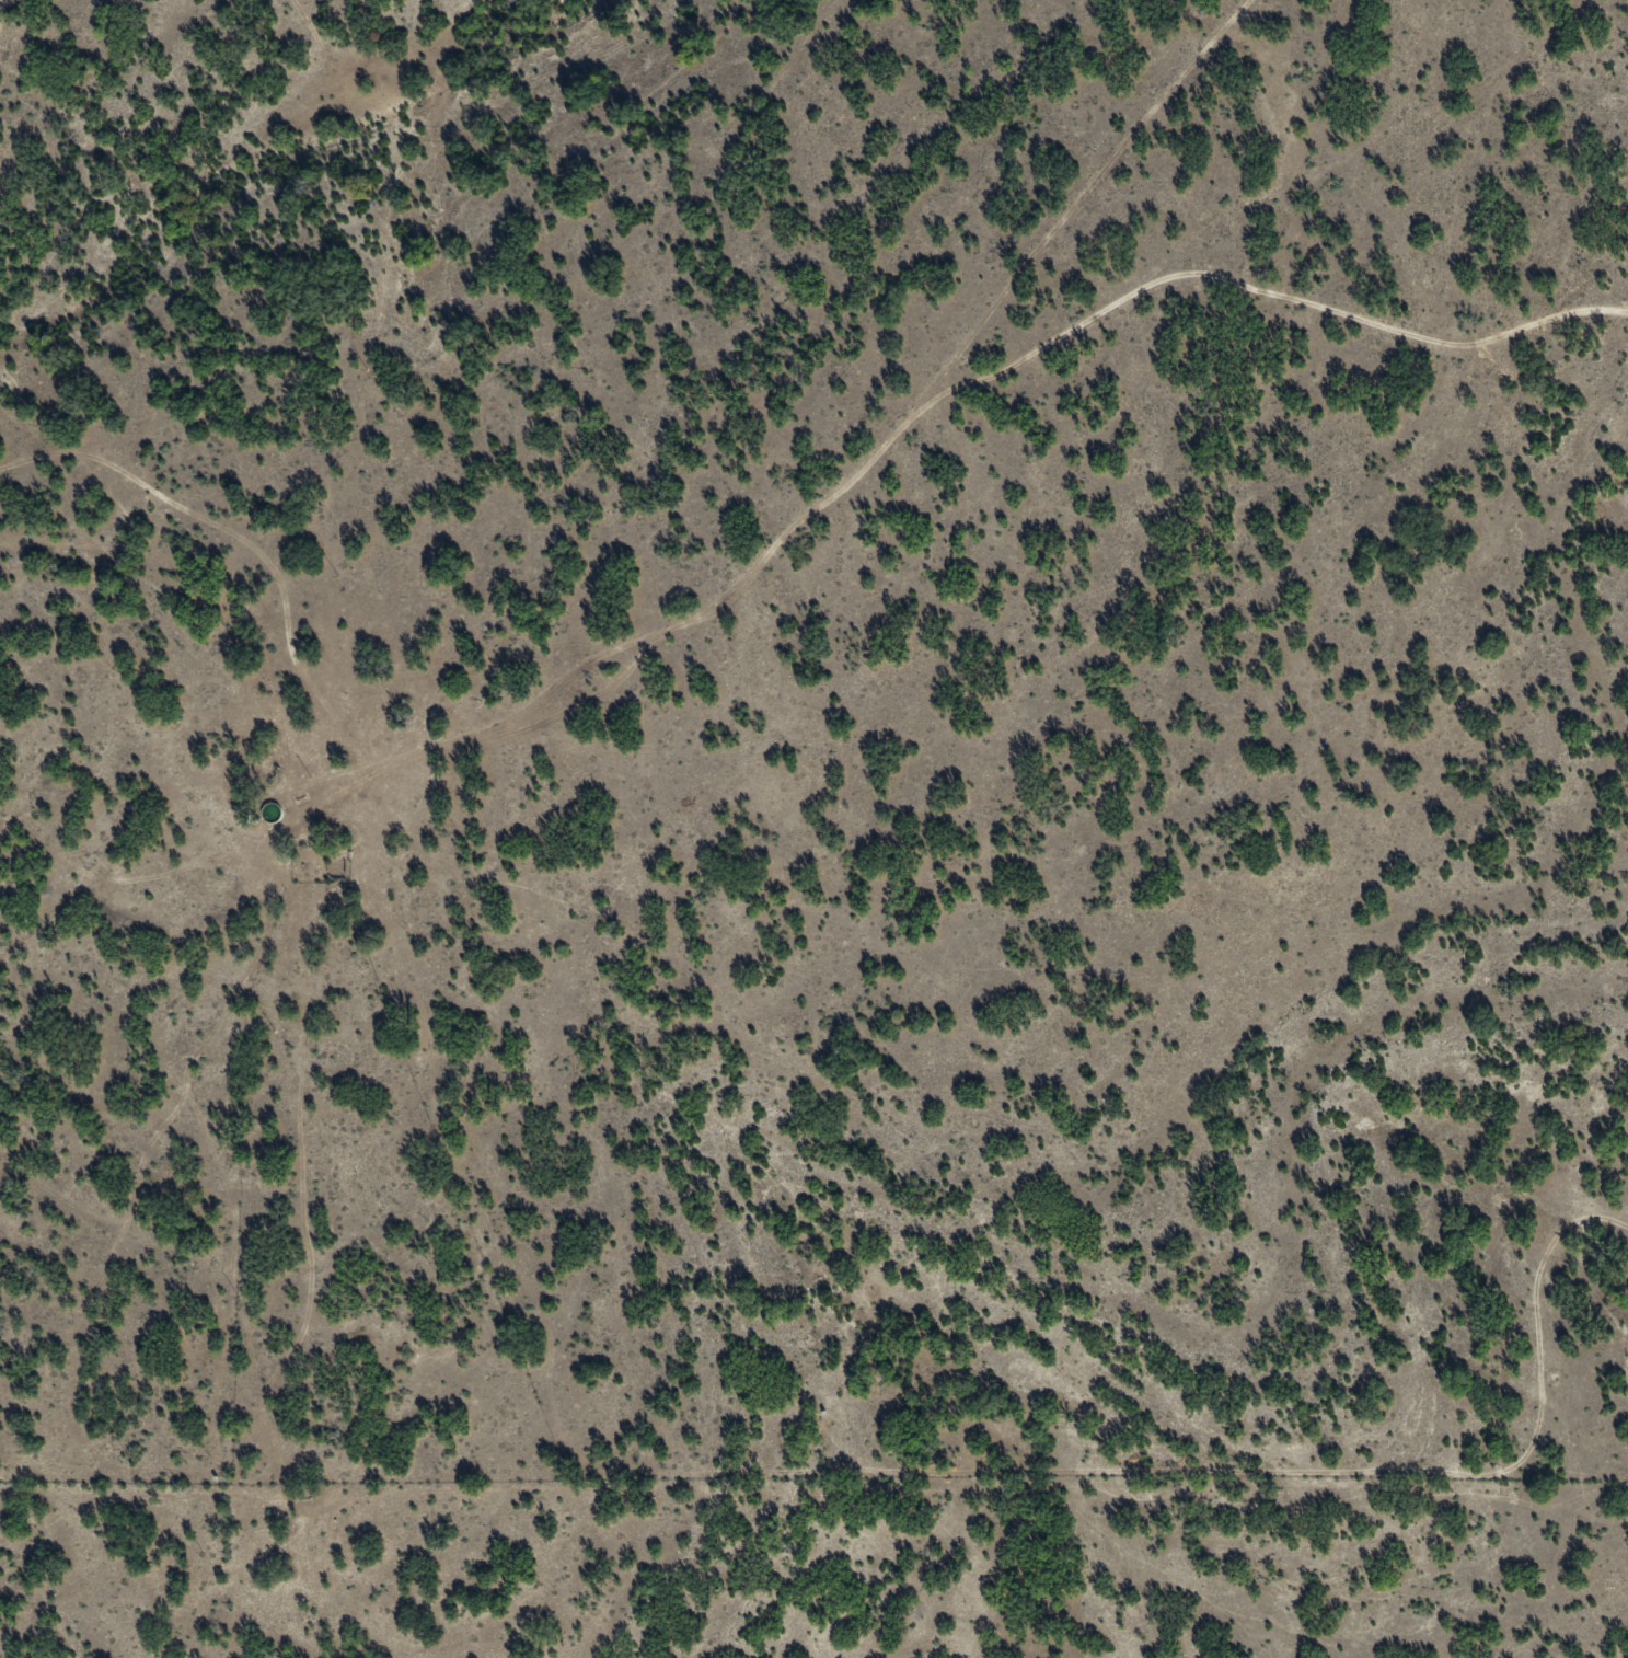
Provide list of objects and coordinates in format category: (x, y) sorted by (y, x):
road: (2, 13)
road: (770, 560)

